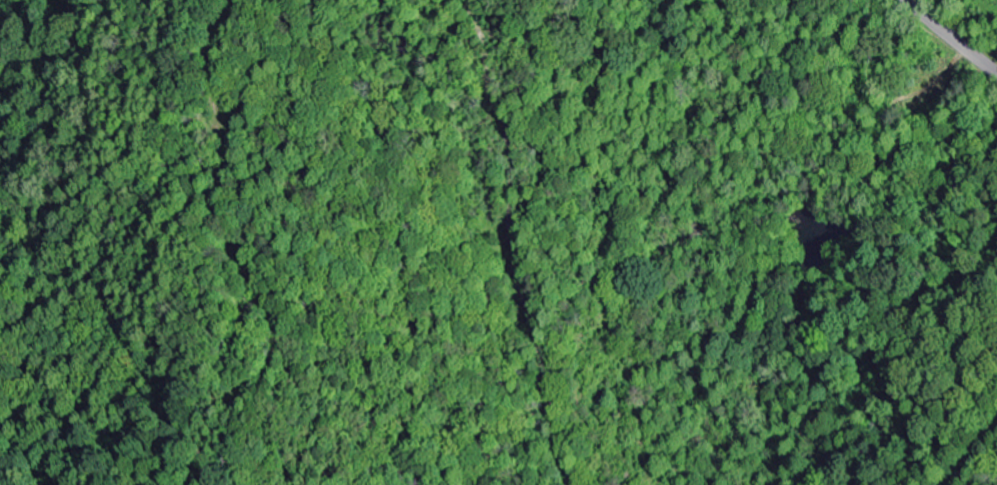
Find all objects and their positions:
road: (954, 35)

